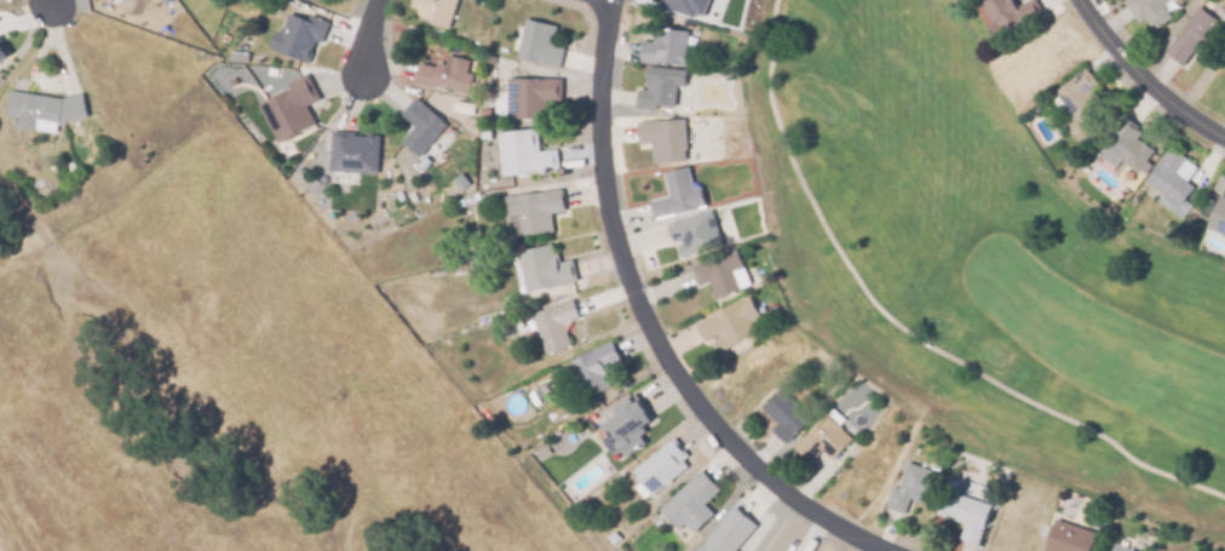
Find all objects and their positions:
building: (111, 0)
building: (114, 0)
road: (47, 2)
building: (686, 6)
building: (435, 11)
building: (1148, 12)
building: (1010, 16)
building: (297, 36)
road: (367, 36)
building: (1190, 36)
building: (537, 44)
building: (663, 46)
building: (4, 52)
building: (444, 75)
road: (1141, 79)
building: (658, 86)
building: (530, 97)
building: (1079, 107)
building: (40, 109)
building: (289, 109)
building: (420, 130)
building: (663, 139)
building: (1126, 144)
building: (353, 153)
building: (522, 154)
building: (1171, 183)
building: (678, 194)
building: (534, 211)
building: (1218, 218)
building: (691, 231)
park: (995, 234)
building: (544, 269)
building: (720, 271)
building: (731, 323)
building: (552, 326)
road: (654, 327)
building: (593, 368)
building: (786, 415)
building: (625, 426)
building: (822, 440)
building: (658, 469)
building: (913, 487)
building: (689, 503)
building: (965, 516)
building: (727, 533)
building: (1068, 540)
building: (1117, 549)

